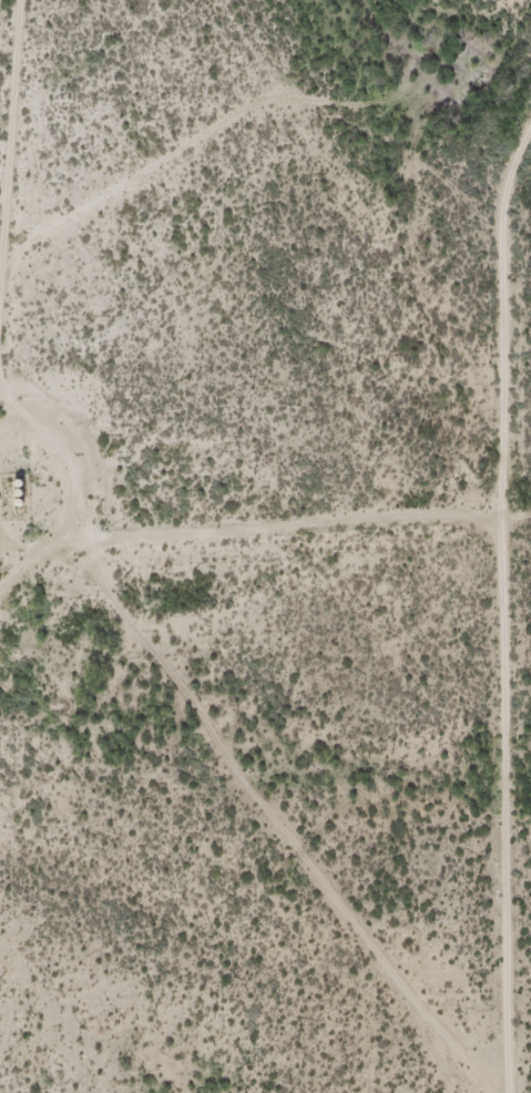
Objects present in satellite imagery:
road: (423, 207)
road: (37, 380)

